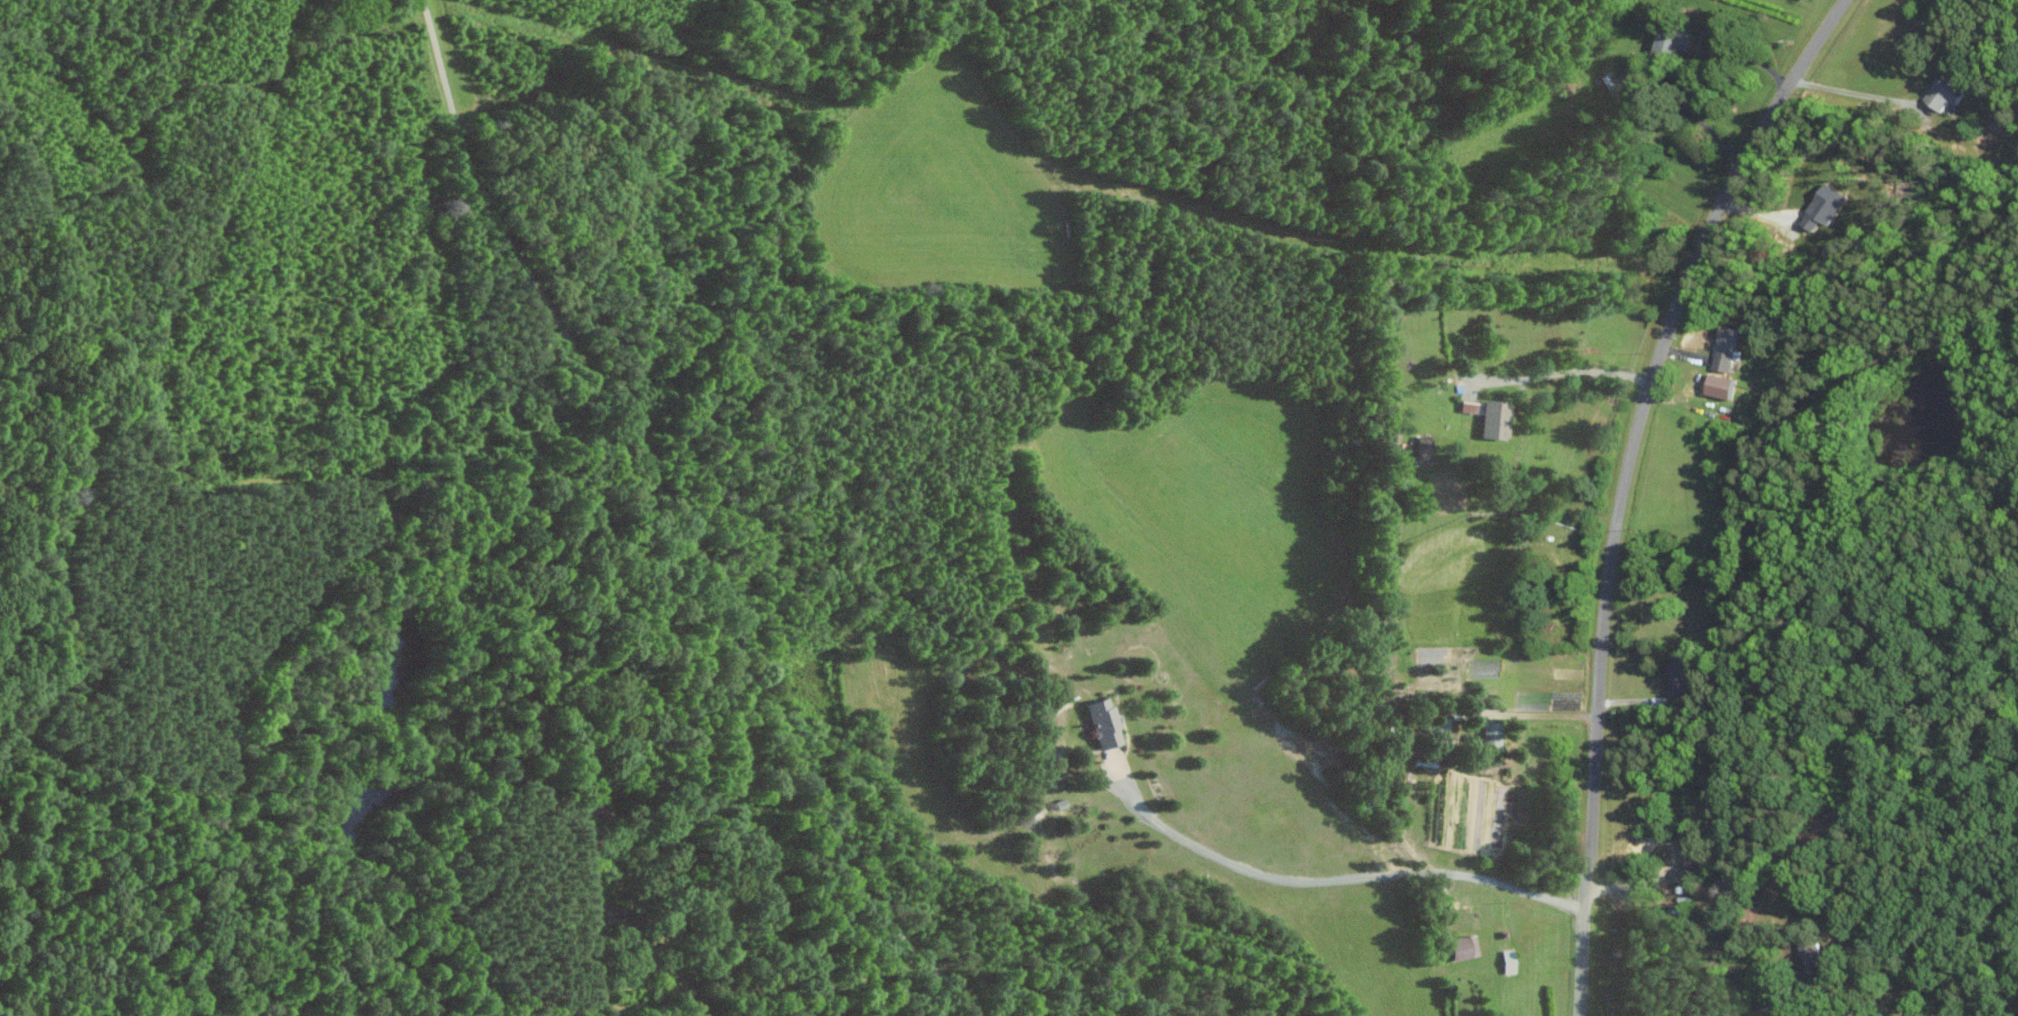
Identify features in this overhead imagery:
building: (1676, 39)
road: (1689, 69)
road: (1848, 92)
building: (1945, 93)
building: (1826, 206)
building: (1728, 347)
road: (1565, 371)
building: (1724, 385)
building: (1473, 406)
building: (1500, 419)
building: (1427, 448)
road: (1621, 483)
road: (687, 524)
building: (1679, 674)
road: (1542, 714)
building: (1109, 723)
building: (1496, 735)
building: (1693, 859)
road: (1669, 865)
road: (1341, 878)
building: (1468, 947)
building: (1815, 956)
road: (1758, 1010)

